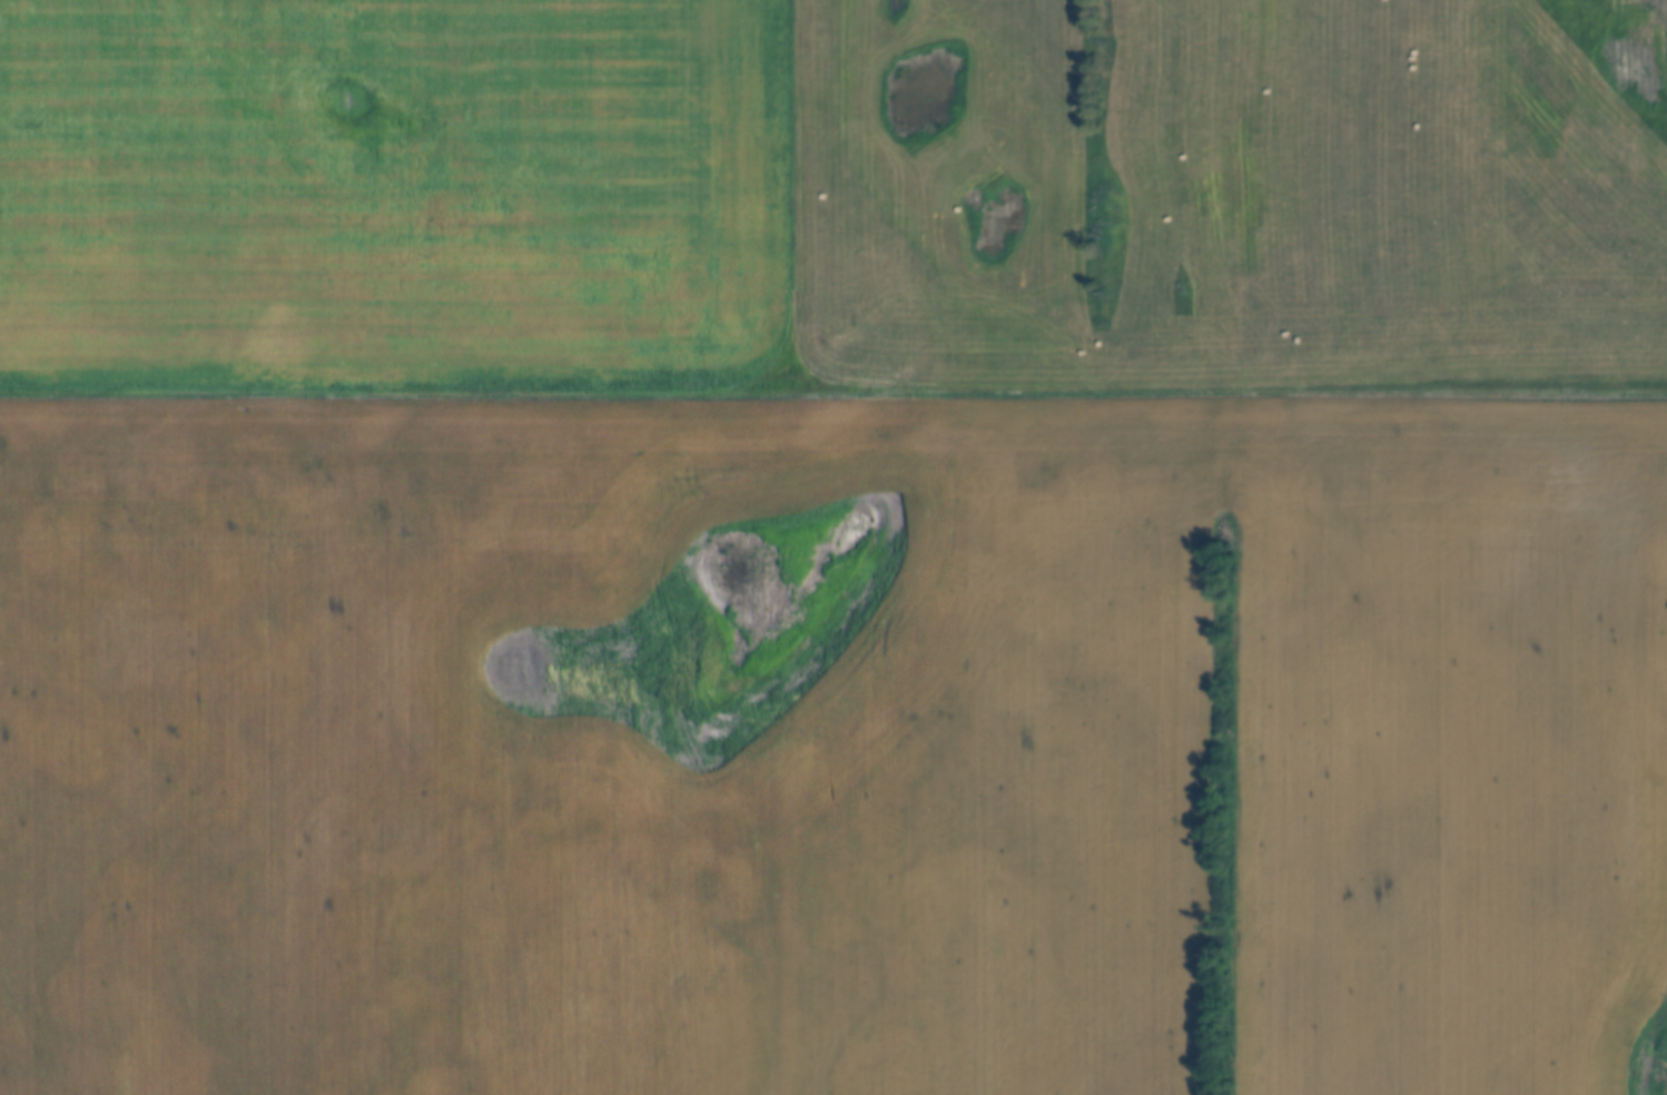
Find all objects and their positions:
building: (1618, 79)
crop: (387, 186)
road: (833, 393)

